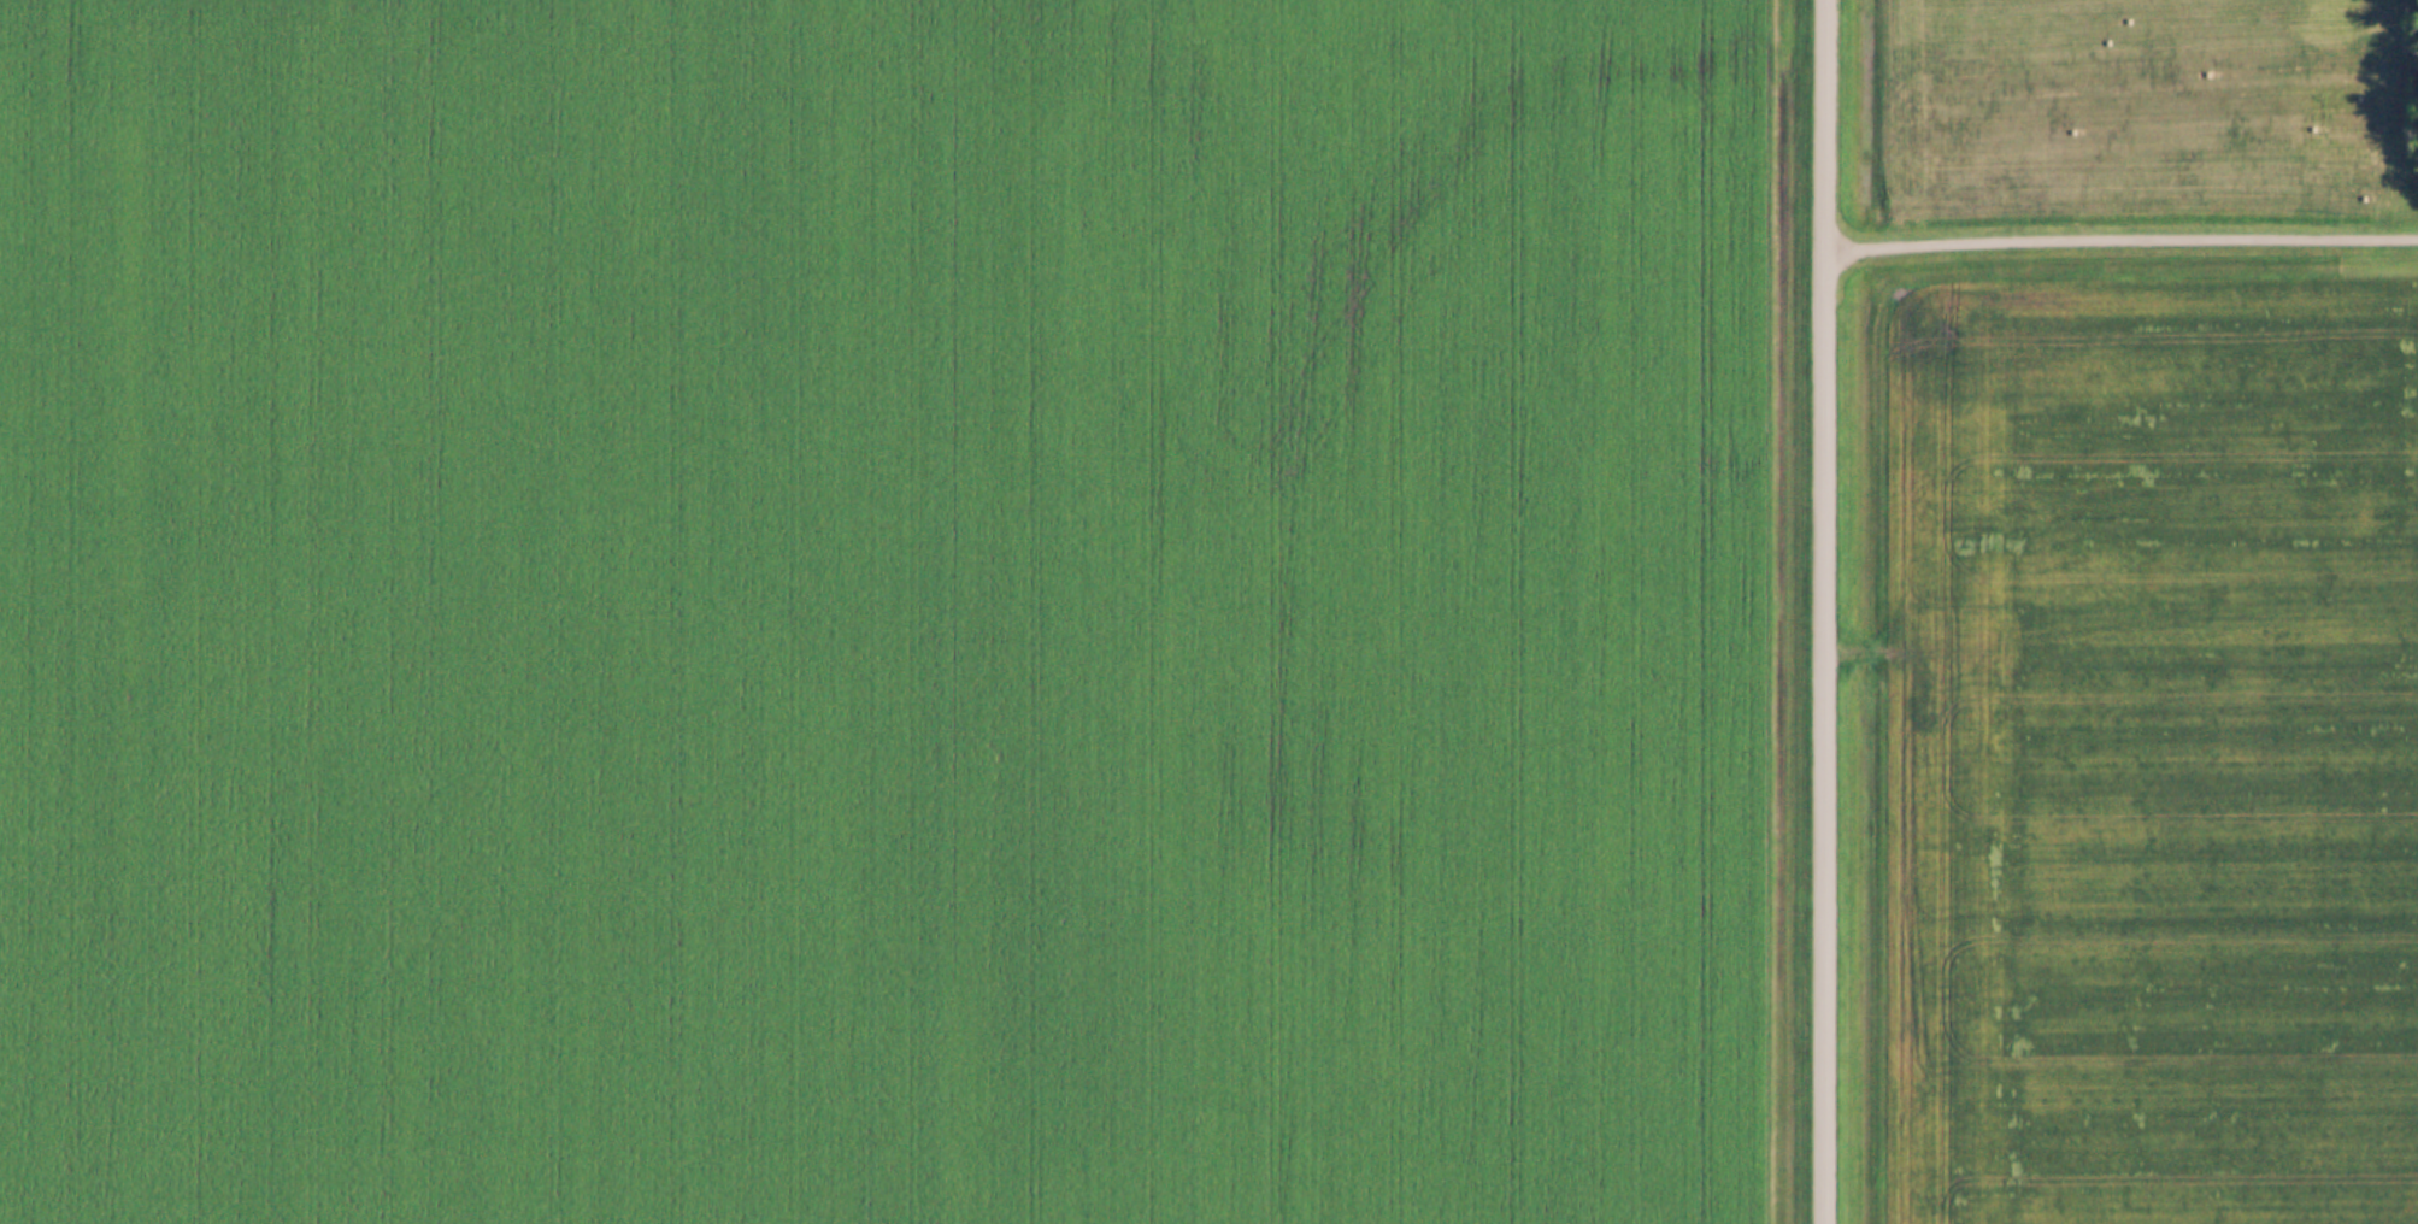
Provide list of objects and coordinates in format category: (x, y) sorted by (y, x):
road: (2120, 240)
road: (1825, 611)

